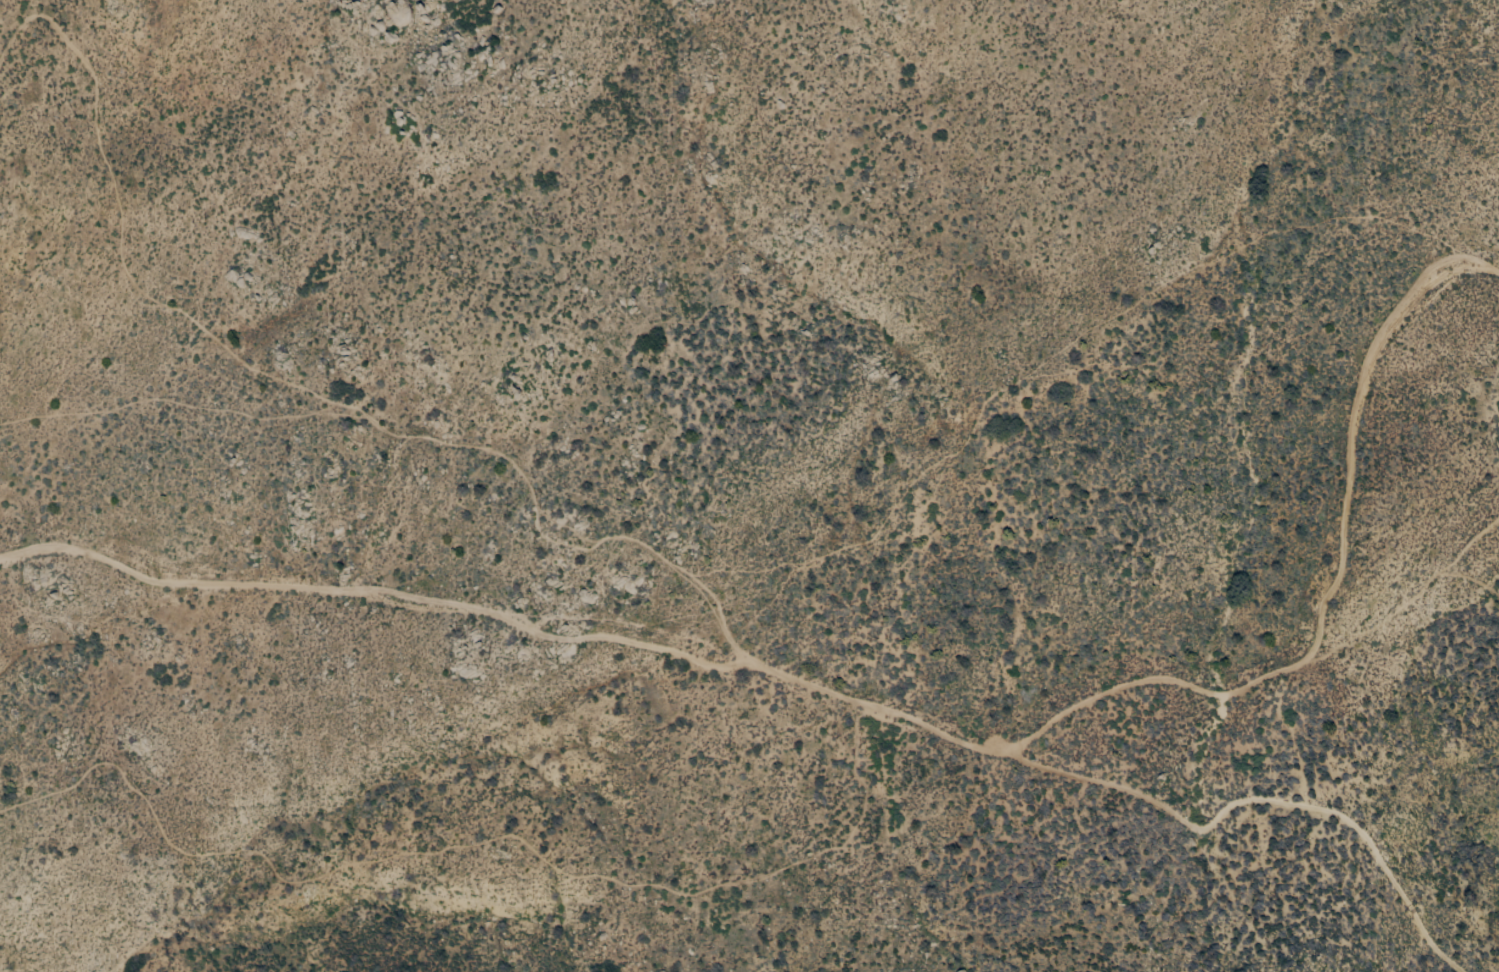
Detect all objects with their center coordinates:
road: (746, 663)
road: (1436, 947)

